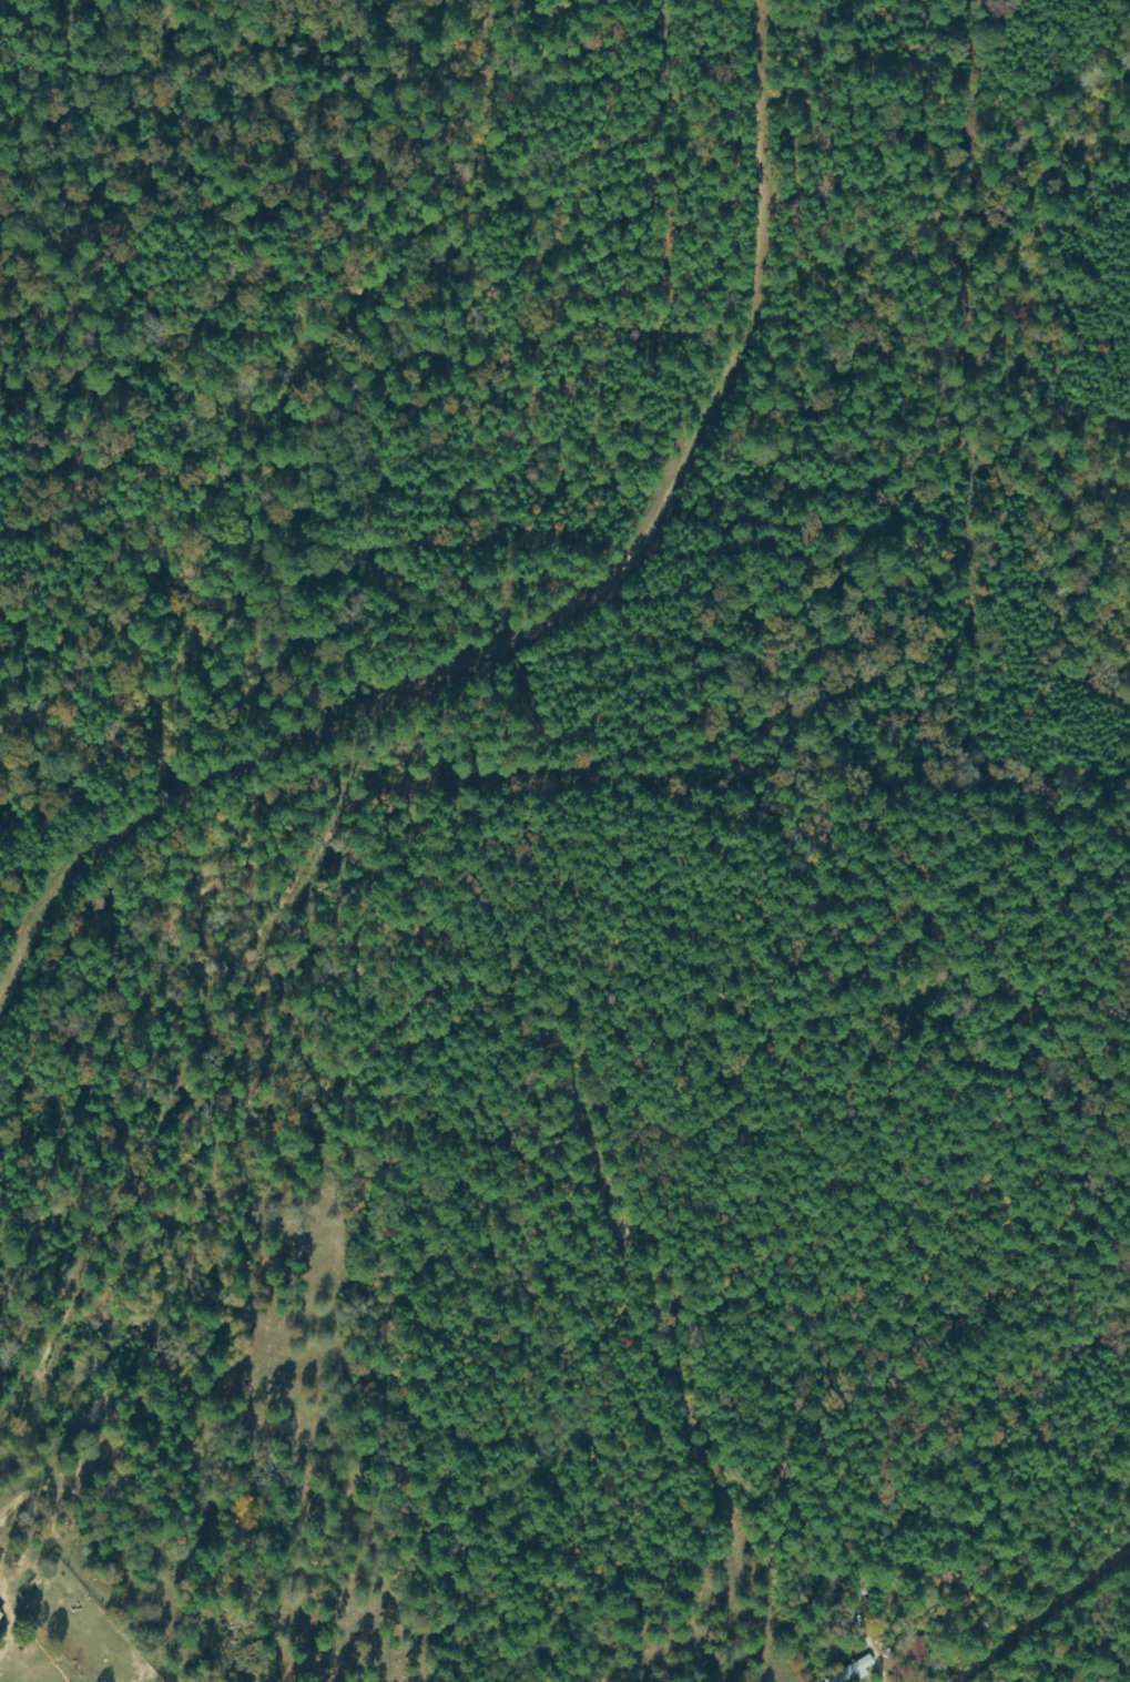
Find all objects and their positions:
road: (528, 599)
road: (1038, 1622)
building: (917, 1650)
building: (855, 1671)

